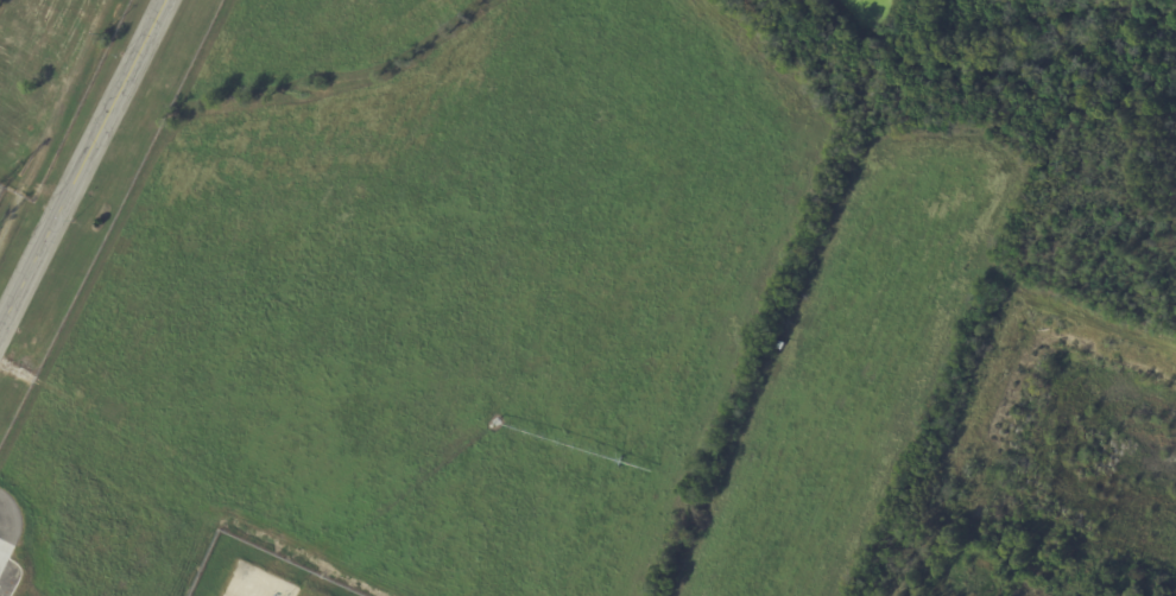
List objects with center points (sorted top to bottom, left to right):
road: (81, 158)
airport: (588, 298)

